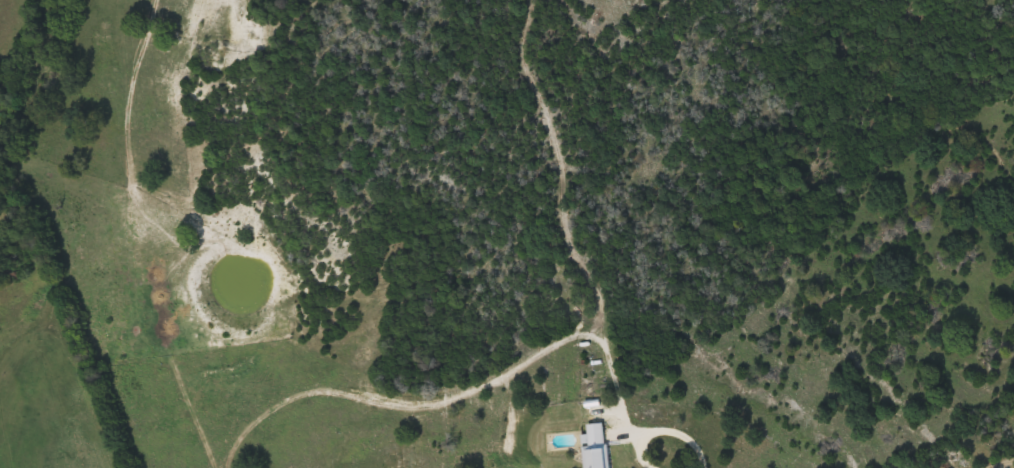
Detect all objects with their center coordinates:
road: (664, 429)
building: (597, 445)

